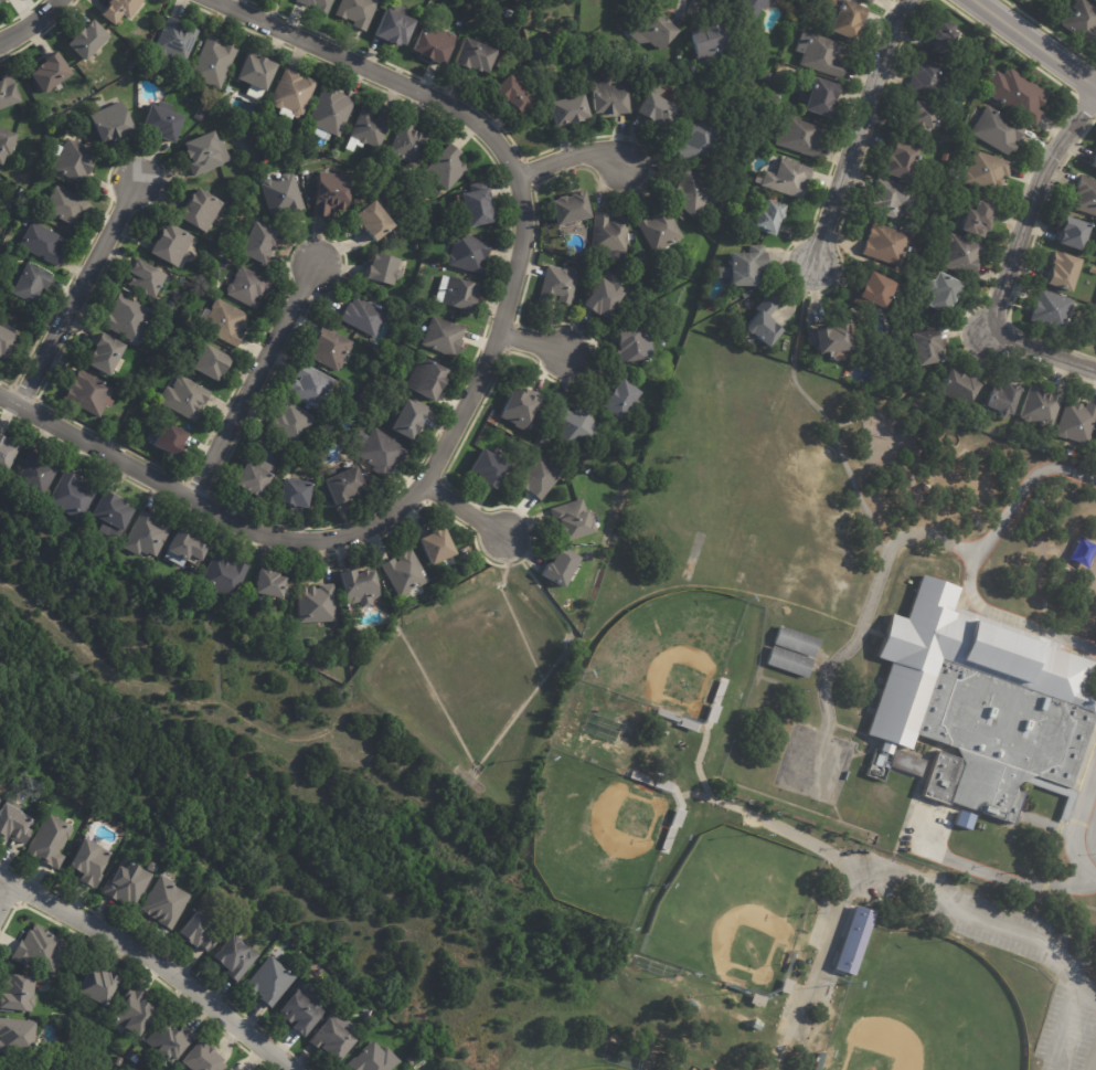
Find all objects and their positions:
building: (12, 0)
building: (1094, 0)
building: (792, 1)
building: (872, 1)
building: (1, 2)
building: (319, 4)
building: (758, 8)
building: (121, 9)
building: (359, 12)
building: (853, 20)
building: (1081, 21)
road: (29, 22)
building: (460, 23)
building: (397, 25)
building: (468, 30)
building: (659, 31)
road: (1036, 39)
building: (92, 40)
building: (941, 40)
building: (177, 42)
building: (439, 45)
building: (712, 47)
building: (476, 55)
building: (541, 55)
building: (824, 55)
building: (215, 63)
building: (134, 66)
building: (975, 66)
building: (53, 73)
building: (259, 75)
building: (770, 76)
building: (924, 78)
building: (9, 92)
building: (517, 93)
building: (294, 94)
building: (1015, 95)
building: (615, 98)
building: (823, 99)
building: (660, 109)
building: (572, 110)
building: (331, 115)
building: (42, 116)
building: (199, 117)
building: (921, 121)
building: (167, 123)
building: (63, 124)
building: (114, 124)
building: (371, 129)
building: (997, 131)
road: (855, 134)
building: (800, 136)
building: (702, 140)
building: (6, 145)
building: (411, 145)
building: (208, 153)
building: (75, 160)
building: (895, 160)
building: (1093, 161)
road: (581, 162)
building: (449, 167)
building: (985, 171)
building: (787, 179)
building: (693, 193)
building: (283, 194)
building: (337, 194)
building: (1084, 197)
building: (887, 199)
building: (479, 205)
building: (68, 206)
building: (204, 211)
building: (574, 211)
building: (772, 218)
building: (375, 220)
building: (260, 221)
building: (25, 222)
building: (977, 222)
building: (662, 230)
building: (401, 231)
building: (1072, 234)
building: (611, 235)
building: (44, 244)
building: (259, 244)
building: (173, 245)
building: (886, 245)
building: (470, 253)
building: (643, 254)
building: (960, 255)
road: (1011, 264)
building: (747, 267)
building: (383, 272)
building: (1061, 272)
building: (147, 279)
building: (28, 283)
building: (560, 287)
building: (249, 288)
building: (872, 290)
road: (77, 292)
building: (937, 292)
building: (748, 294)
building: (459, 295)
building: (180, 298)
building: (607, 299)
building: (664, 304)
building: (637, 306)
building: (12, 307)
building: (173, 307)
building: (1050, 310)
building: (365, 317)
building: (454, 317)
building: (131, 320)
building: (766, 320)
building: (228, 325)
building: (445, 338)
building: (7, 339)
building: (826, 340)
road: (542, 343)
building: (631, 347)
building: (923, 349)
building: (333, 351)
building: (109, 356)
building: (213, 363)
road: (253, 380)
building: (430, 381)
building: (313, 386)
building: (956, 388)
building: (91, 394)
road: (473, 395)
building: (624, 399)
building: (188, 400)
building: (1000, 400)
building: (521, 409)
building: (1039, 409)
building: (411, 419)
building: (291, 422)
building: (1076, 422)
building: (541, 424)
building: (576, 425)
building: (1095, 435)
building: (172, 441)
building: (382, 452)
building: (8, 455)
building: (490, 469)
building: (38, 476)
building: (544, 478)
building: (256, 479)
building: (347, 486)
building: (296, 494)
building: (73, 497)
road: (475, 516)
building: (114, 517)
building: (576, 521)
building: (147, 537)
building: (439, 547)
building: (184, 549)
road: (977, 563)
building: (562, 568)
building: (406, 573)
building: (224, 580)
building: (157, 581)
building: (272, 585)
building: (360, 586)
building: (318, 603)
building: (234, 616)
road: (872, 623)
building: (796, 643)
building: (789, 663)
building: (716, 691)
building: (989, 703)
building: (710, 712)
building: (666, 714)
building: (685, 724)
building: (905, 763)
building: (639, 777)
building: (660, 785)
building: (0, 801)
building: (674, 817)
building: (964, 820)
building: (14, 825)
road: (1079, 827)
parking lot: (1088, 833)
park: (593, 835)
road: (1094, 837)
building: (666, 838)
building: (1012, 838)
building: (52, 840)
building: (91, 861)
building: (155, 867)
road: (1008, 878)
building: (129, 883)
road: (919, 887)
road: (8, 898)
park: (730, 900)
building: (168, 902)
building: (201, 932)
building: (853, 942)
park: (743, 944)
building: (42, 949)
building: (236, 956)
building: (789, 962)
road: (157, 963)
building: (273, 981)
building: (102, 986)
building: (733, 987)
building: (785, 987)
building: (19, 993)
building: (755, 1000)
building: (137, 1011)
building: (304, 1011)
park: (927, 1013)
building: (755, 1026)
building: (18, 1037)
building: (334, 1037)
building: (171, 1041)
building: (204, 1058)
building: (375, 1058)
building: (136, 1059)
building: (123, 1060)
building: (818, 1061)
park: (595, 1063)
building: (231, 1069)

